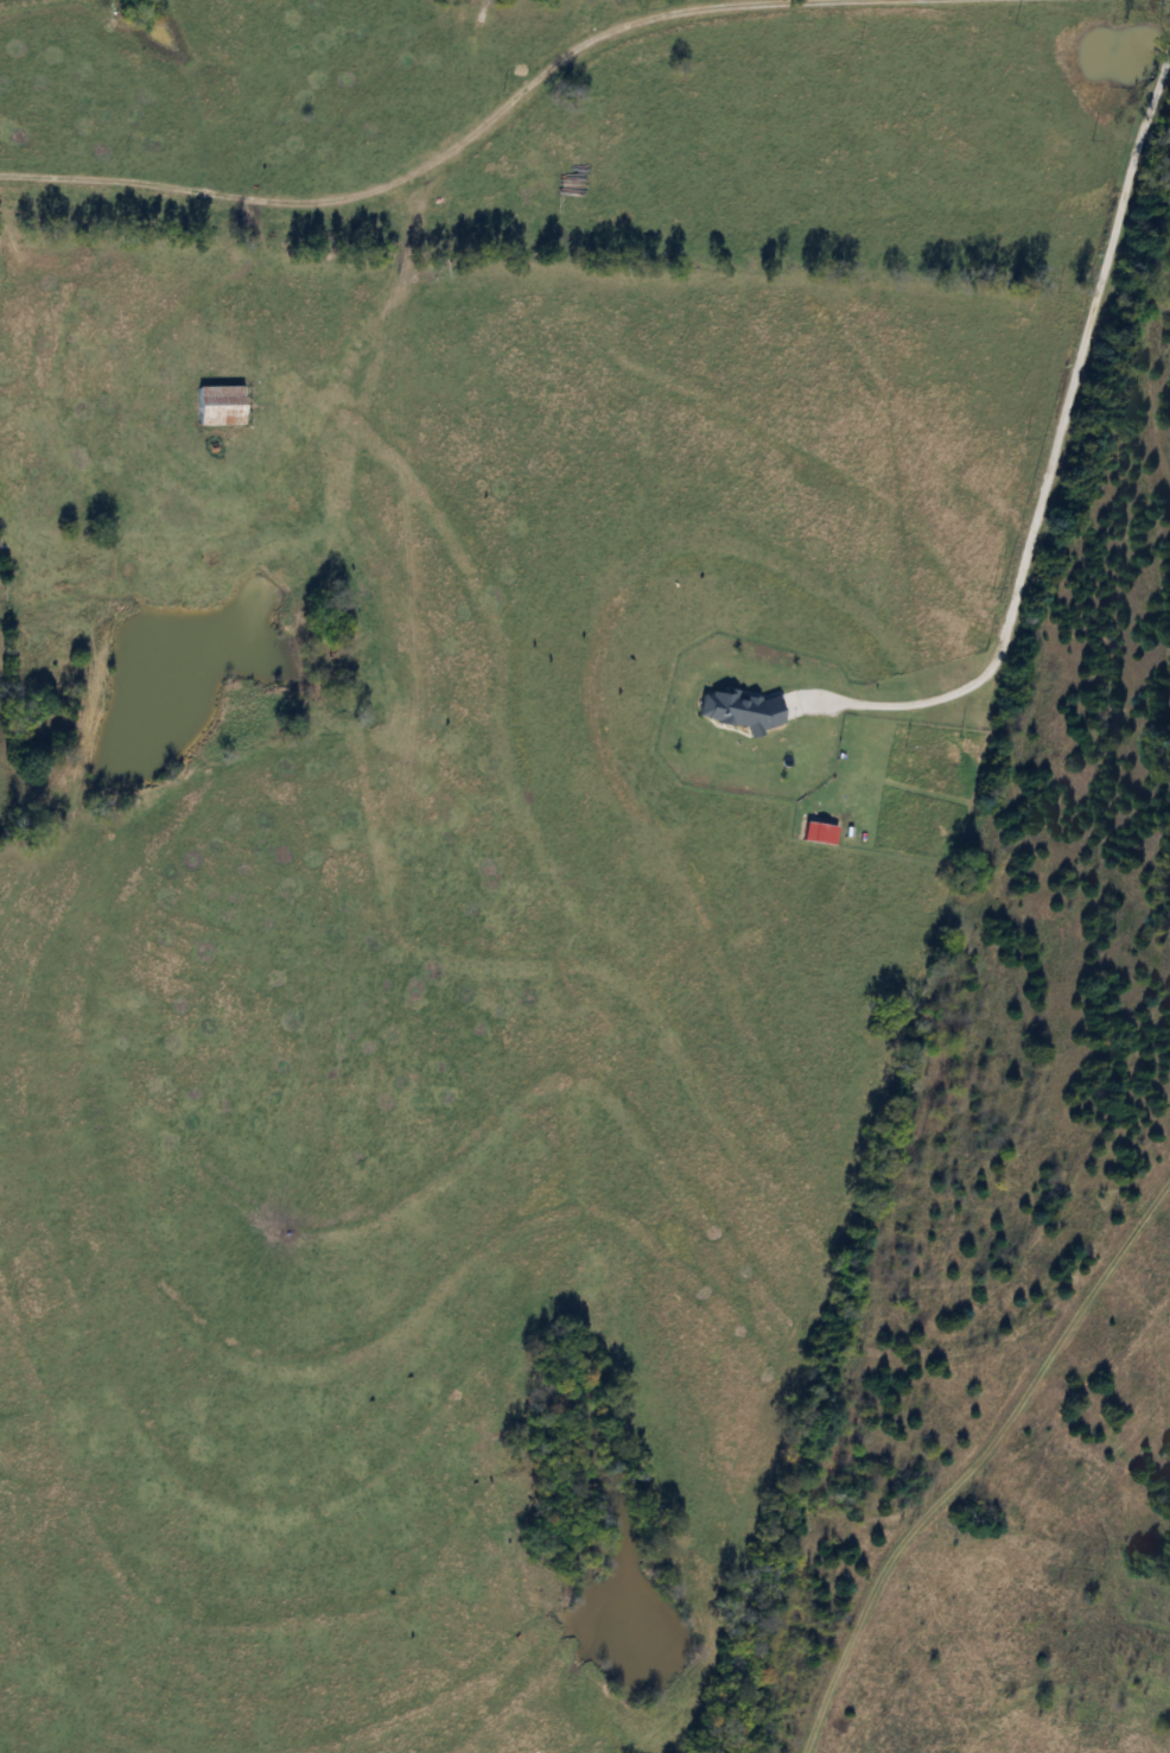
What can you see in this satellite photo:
road: (422, 166)
building: (220, 404)
road: (1062, 418)

